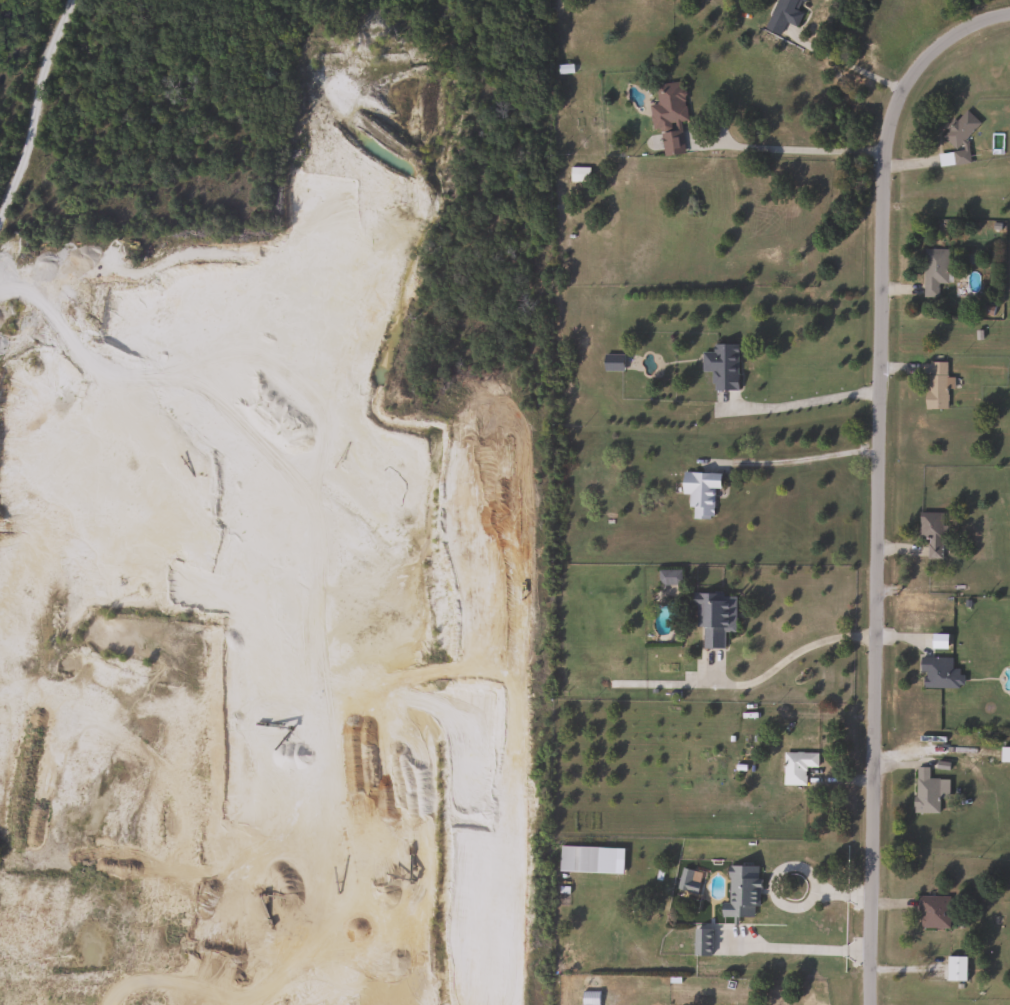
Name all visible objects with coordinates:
building: (786, 10)
road: (846, 64)
road: (35, 104)
building: (669, 116)
building: (959, 129)
road: (805, 150)
building: (577, 173)
building: (933, 269)
building: (611, 362)
building: (721, 366)
building: (936, 385)
road: (801, 402)
road: (794, 459)
road: (880, 479)
building: (700, 491)
building: (932, 532)
building: (668, 576)
building: (713, 617)
road: (790, 657)
building: (938, 673)
building: (1005, 754)
building: (797, 766)
building: (925, 791)
building: (585, 859)
building: (688, 880)
building: (741, 891)
building: (933, 912)
building: (701, 941)
building: (955, 968)
building: (589, 997)

